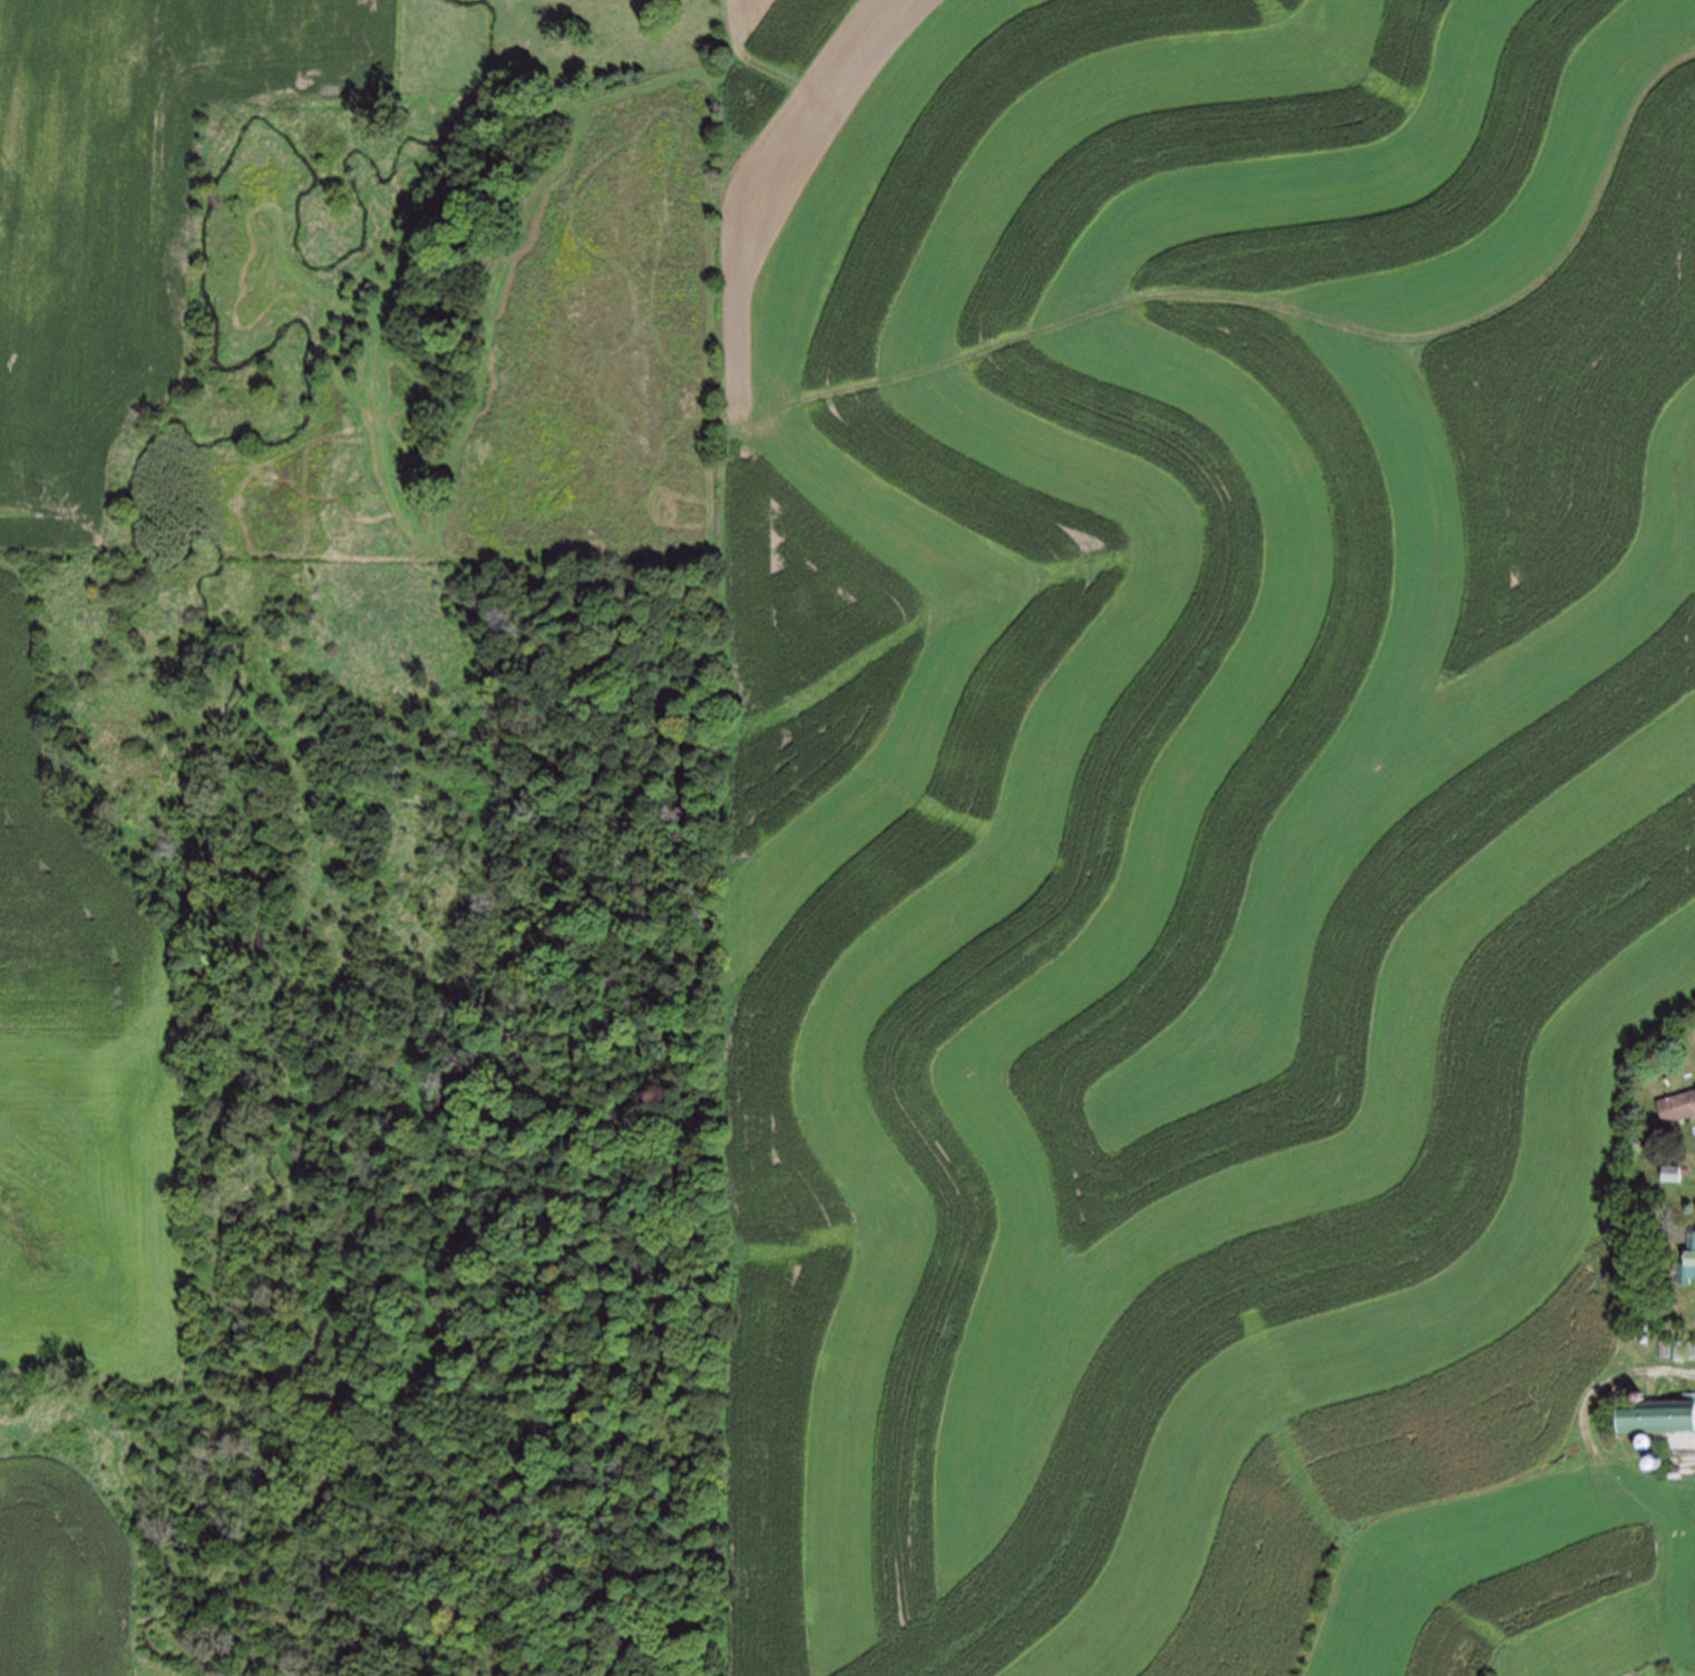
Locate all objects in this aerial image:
road: (1280, 300)
building: (1676, 1103)
building: (1672, 1171)
building: (1688, 1257)
building: (1666, 1345)
building: (1678, 1346)
building: (1691, 1346)
road: (1599, 1386)
building: (1656, 1413)

